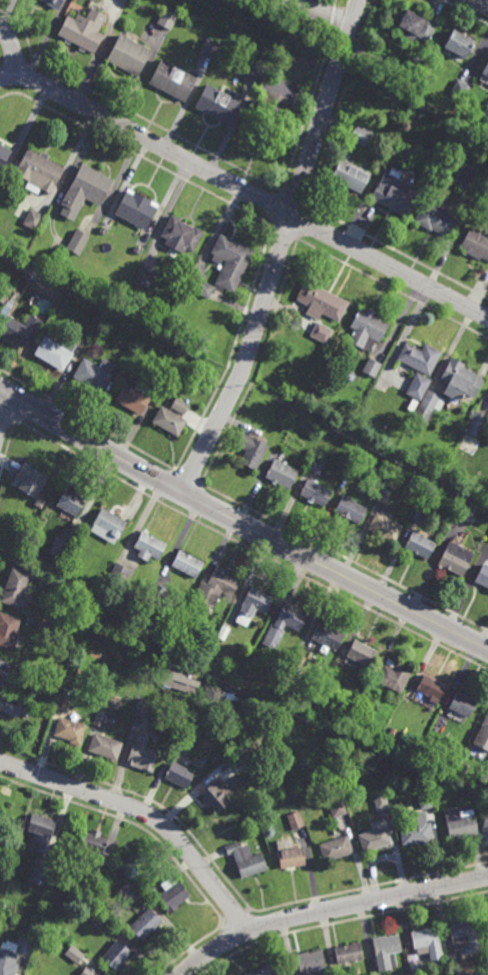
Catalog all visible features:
building: (127, 0)
road: (483, 2)
building: (53, 4)
road: (325, 11)
building: (168, 20)
building: (418, 27)
building: (85, 30)
building: (459, 41)
building: (211, 48)
road: (13, 53)
building: (130, 54)
building: (409, 69)
building: (486, 70)
building: (256, 73)
building: (174, 80)
building: (461, 88)
building: (220, 104)
building: (485, 115)
building: (269, 119)
building: (360, 135)
building: (4, 155)
building: (40, 171)
building: (349, 175)
building: (86, 190)
road: (248, 192)
building: (395, 194)
building: (138, 208)
building: (34, 220)
building: (435, 220)
building: (104, 230)
building: (182, 235)
building: (78, 242)
building: (476, 245)
building: (139, 250)
road: (280, 250)
building: (231, 261)
building: (20, 266)
building: (27, 274)
building: (145, 278)
building: (35, 280)
building: (201, 284)
building: (4, 293)
building: (70, 293)
building: (321, 302)
building: (111, 314)
building: (19, 329)
building: (367, 329)
building: (322, 333)
building: (181, 351)
building: (57, 353)
building: (420, 358)
building: (372, 368)
building: (96, 374)
building: (460, 381)
building: (418, 387)
building: (138, 396)
building: (182, 406)
building: (430, 406)
road: (4, 411)
building: (412, 411)
building: (172, 422)
building: (477, 423)
building: (395, 431)
building: (251, 452)
building: (317, 466)
building: (281, 472)
building: (31, 481)
building: (392, 486)
building: (314, 494)
building: (384, 496)
building: (40, 504)
building: (72, 504)
building: (350, 510)
building: (468, 512)
road: (241, 523)
building: (109, 527)
building: (385, 528)
building: (420, 546)
building: (57, 548)
building: (150, 548)
building: (456, 559)
building: (55, 564)
building: (188, 565)
building: (120, 576)
building: (483, 576)
building: (16, 590)
building: (212, 591)
building: (158, 595)
building: (253, 606)
building: (75, 622)
building: (276, 627)
building: (9, 633)
building: (222, 633)
building: (327, 636)
building: (361, 653)
building: (1, 667)
building: (394, 675)
building: (166, 678)
building: (1, 683)
building: (192, 686)
building: (430, 689)
building: (62, 702)
building: (463, 704)
building: (142, 707)
building: (12, 708)
building: (346, 715)
building: (100, 719)
building: (69, 731)
building: (391, 733)
building: (483, 735)
building: (181, 744)
building: (104, 747)
building: (141, 755)
building: (244, 757)
building: (485, 770)
building: (178, 776)
building: (215, 795)
building: (380, 801)
building: (424, 801)
building: (337, 809)
road: (147, 813)
building: (295, 821)
building: (460, 823)
building: (485, 824)
building: (40, 831)
building: (416, 832)
building: (375, 837)
building: (90, 846)
building: (336, 849)
building: (289, 855)
building: (246, 861)
building: (4, 871)
building: (40, 872)
building: (91, 879)
building: (150, 889)
building: (80, 891)
building: (129, 891)
building: (171, 894)
road: (328, 911)
building: (487, 919)
building: (97, 921)
building: (145, 924)
building: (465, 935)
building: (427, 942)
building: (24, 945)
building: (386, 950)
building: (348, 953)
building: (73, 955)
building: (115, 955)
building: (7, 958)
building: (455, 960)
building: (311, 963)
building: (417, 968)
building: (262, 971)
building: (88, 972)

